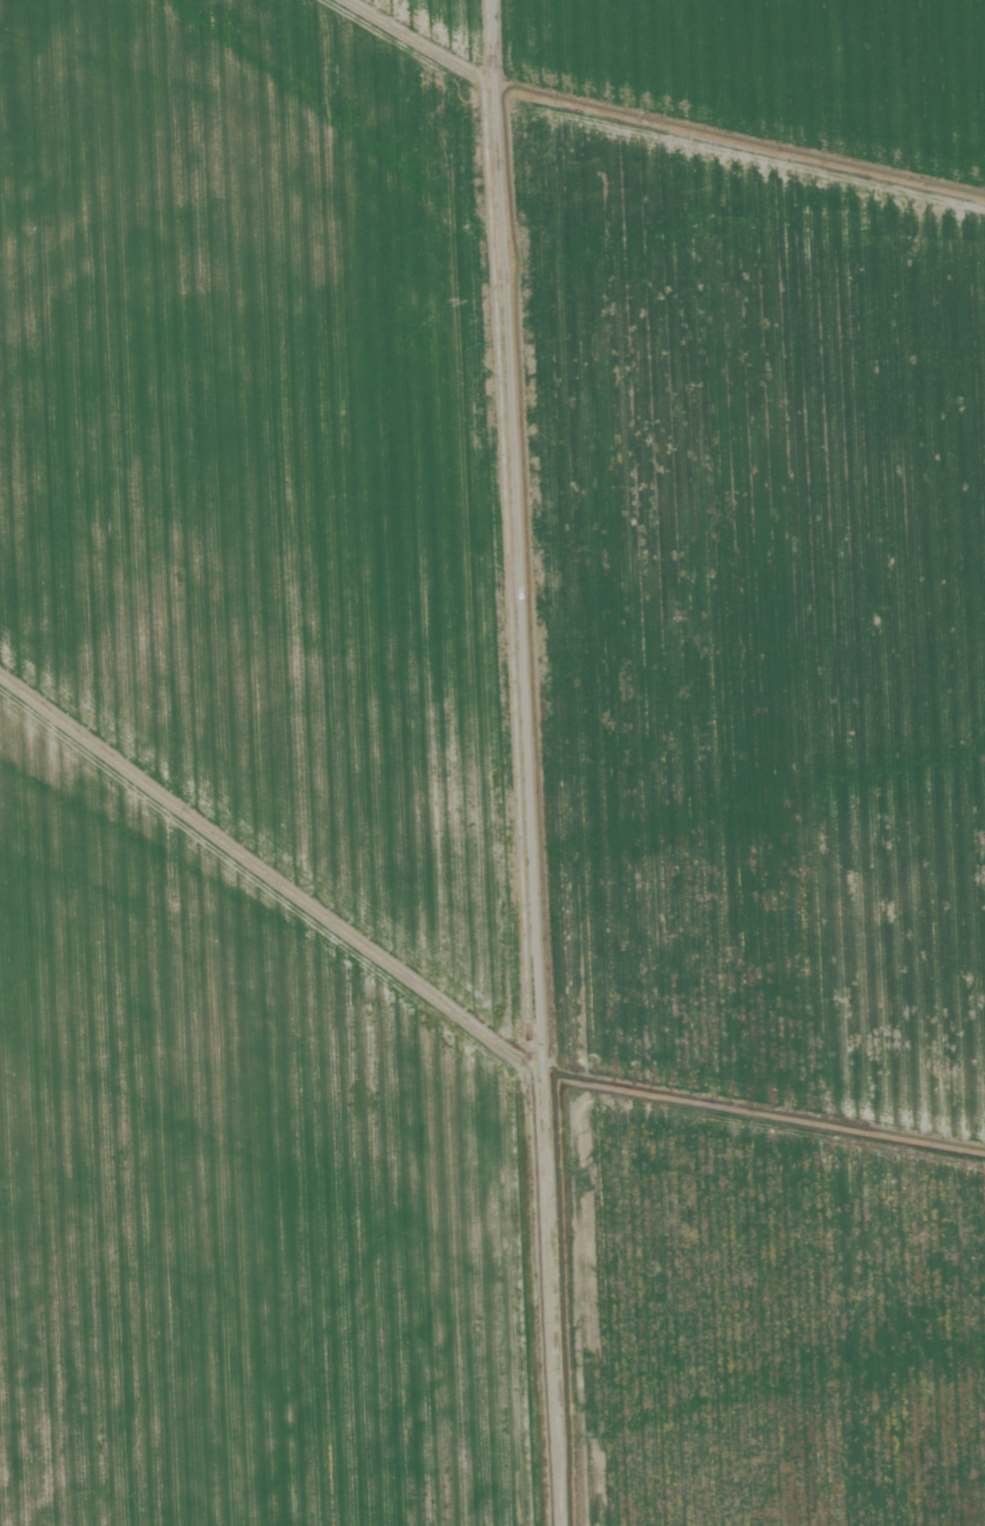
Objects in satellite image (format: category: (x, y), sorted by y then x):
crop: (492, 763)

